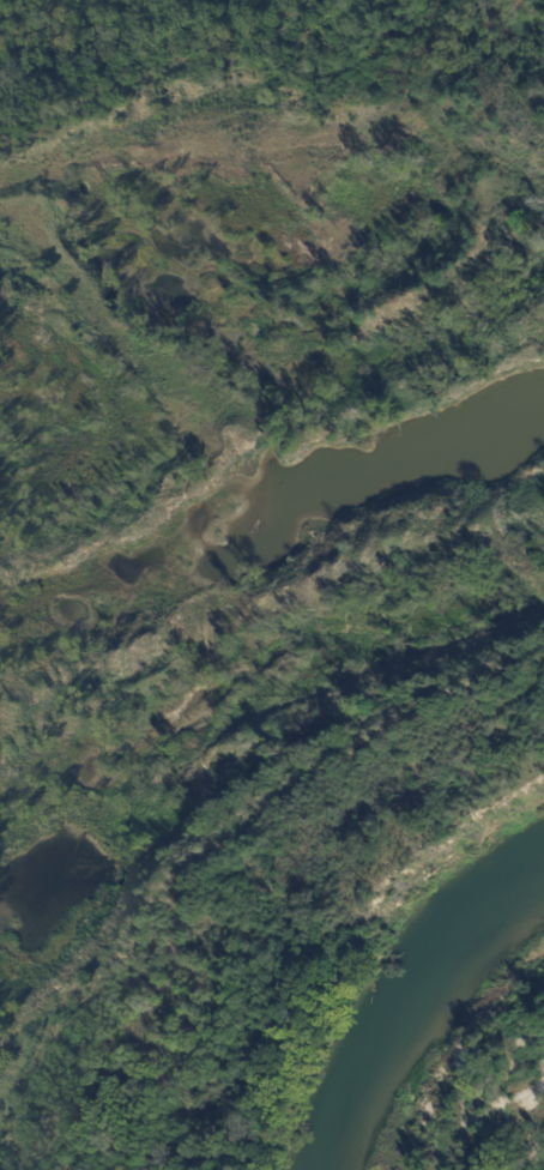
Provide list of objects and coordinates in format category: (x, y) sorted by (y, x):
river: (421, 1020)

